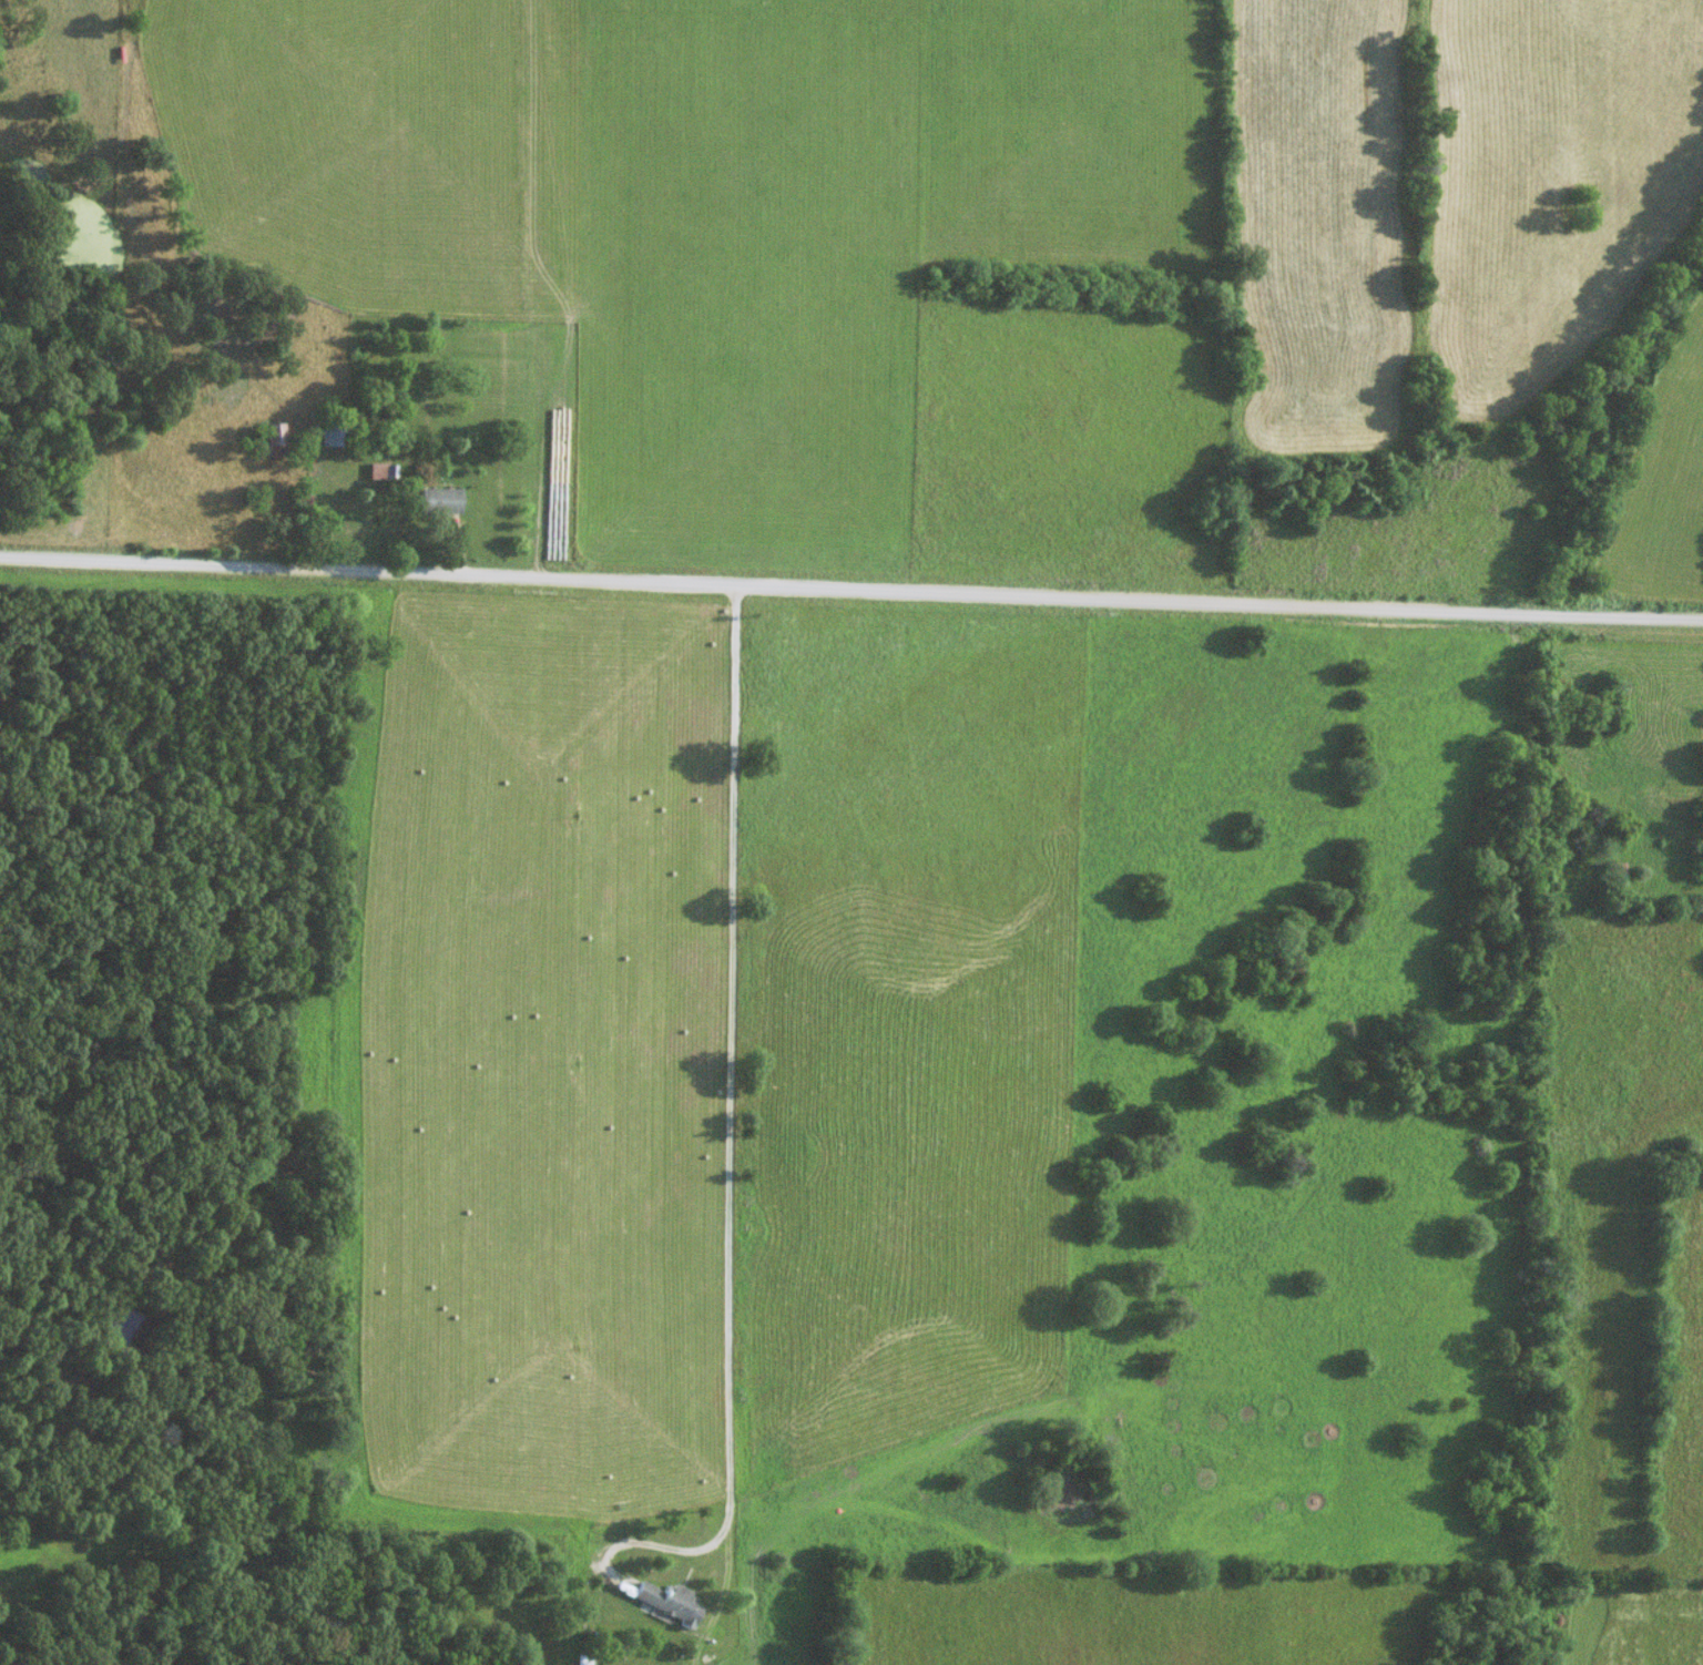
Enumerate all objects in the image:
building: (336, 435)
building: (271, 439)
road: (405, 494)
building: (437, 501)
road: (850, 586)
building: (1615, 880)
road: (582, 1538)
building: (666, 1603)

